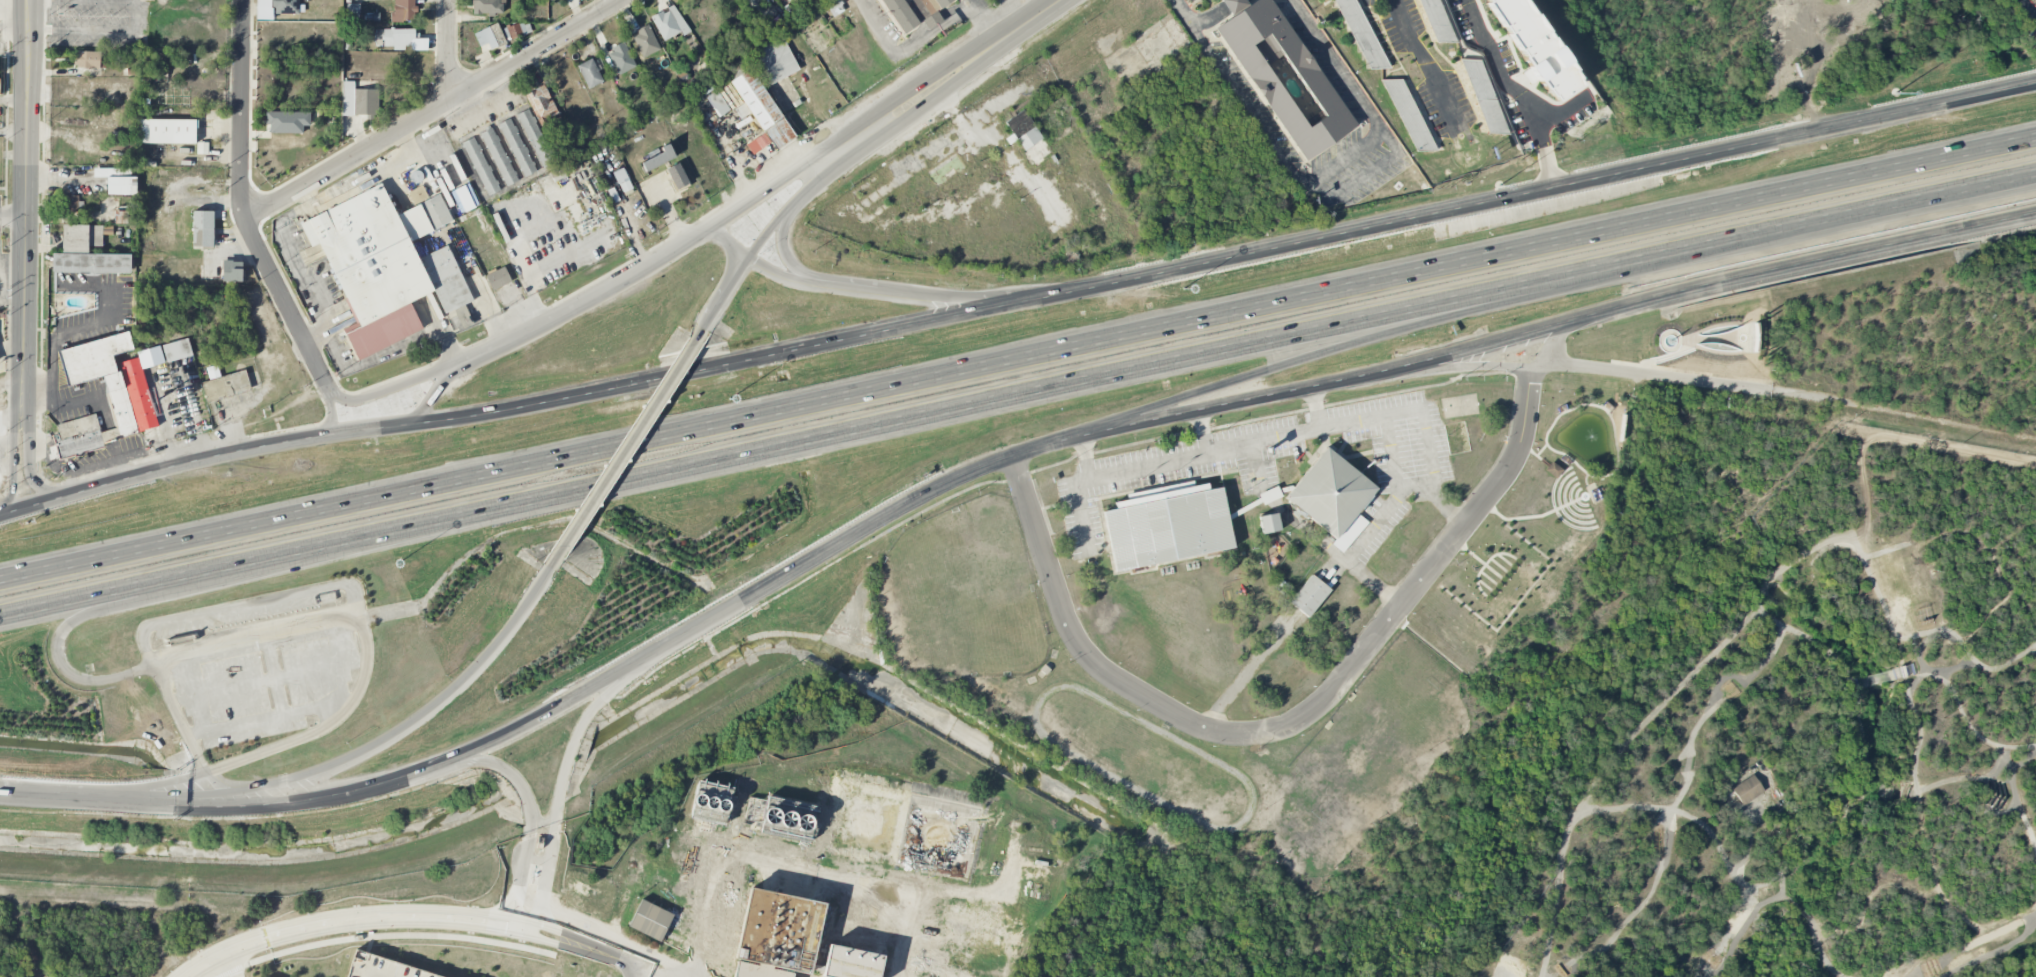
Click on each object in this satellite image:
building: (815, 2)
building: (940, 3)
road: (976, 3)
road: (1232, 4)
building: (285, 6)
building: (488, 7)
road: (2026, 8)
building: (404, 10)
building: (900, 14)
road: (1211, 17)
road: (988, 20)
building: (1435, 20)
building: (666, 24)
building: (516, 31)
building: (1361, 34)
building: (490, 36)
building: (397, 38)
road: (1002, 39)
building: (645, 41)
road: (909, 46)
building: (1534, 47)
road: (448, 49)
building: (621, 58)
building: (87, 59)
building: (775, 59)
road: (1430, 63)
building: (590, 73)
building: (1283, 75)
building: (0, 81)
road: (1521, 92)
building: (1484, 96)
building: (359, 100)
building: (717, 103)
road: (924, 105)
building: (542, 106)
building: (760, 108)
road: (435, 109)
building: (1408, 115)
building: (287, 121)
building: (166, 131)
road: (13, 133)
building: (535, 137)
building: (1028, 137)
building: (517, 147)
building: (202, 148)
building: (499, 157)
building: (658, 157)
road: (26, 160)
building: (481, 166)
building: (677, 176)
road: (1317, 178)
road: (1358, 178)
building: (121, 186)
road: (761, 193)
road: (1541, 194)
building: (418, 195)
building: (69, 204)
road: (243, 207)
road: (13, 217)
building: (122, 217)
road: (1854, 223)
building: (202, 228)
road: (768, 234)
road: (636, 243)
road: (731, 245)
building: (87, 253)
road: (790, 261)
building: (385, 265)
road: (546, 267)
building: (232, 270)
building: (498, 278)
road: (303, 281)
road: (731, 288)
road: (896, 289)
road: (1559, 327)
road: (315, 335)
road: (18, 336)
road: (1374, 336)
road: (1552, 348)
building: (177, 350)
road: (390, 350)
road: (8, 352)
road: (23, 352)
road: (1017, 362)
road: (731, 363)
road: (456, 366)
road: (29, 370)
road: (1450, 371)
road: (16, 383)
building: (226, 386)
road: (393, 387)
road: (431, 391)
road: (1789, 395)
road: (1529, 398)
building: (130, 400)
road: (75, 402)
road: (1316, 407)
road: (22, 411)
road: (7, 415)
road: (331, 415)
road: (1328, 424)
road: (110, 425)
road: (105, 426)
road: (1202, 430)
road: (1424, 432)
road: (115, 436)
road: (836, 436)
road: (106, 438)
road: (630, 442)
road: (1920, 444)
road: (116, 448)
road: (112, 449)
road: (1617, 450)
road: (211, 457)
road: (1542, 461)
road: (14, 466)
road: (120, 466)
road: (28, 468)
building: (1553, 470)
building: (1330, 493)
road: (1434, 497)
road: (6, 515)
road: (6, 516)
road: (1536, 516)
building: (1269, 523)
building: (1167, 526)
building: (1309, 596)
road: (1521, 599)
road: (119, 607)
road: (199, 613)
road: (262, 631)
road: (1967, 647)
road: (612, 673)
road: (1681, 676)
road: (312, 733)
road: (1260, 736)
road: (365, 747)
road: (1915, 774)
road: (134, 787)
road: (221, 790)
building: (1747, 790)
road: (6, 793)
road: (6, 794)
road: (62, 798)
road: (557, 798)
building: (712, 804)
building: (779, 817)
building: (869, 821)
road: (1818, 833)
building: (937, 837)
road: (538, 859)
road: (722, 862)
building: (1032, 874)
road: (884, 884)
road: (968, 893)
road: (872, 898)
building: (996, 904)
road: (518, 908)
road: (441, 909)
building: (960, 910)
building: (987, 916)
building: (650, 918)
building: (959, 918)
road: (441, 922)
building: (985, 924)
building: (956, 931)
building: (1000, 934)
building: (1013, 936)
building: (982, 937)
road: (262, 938)
building: (792, 938)
building: (959, 946)
road: (901, 949)
building: (940, 957)
road: (619, 960)
building: (384, 967)
parking garage: (384, 967)
road: (639, 972)
building: (946, 972)
road: (899, 974)
building: (967, 975)

